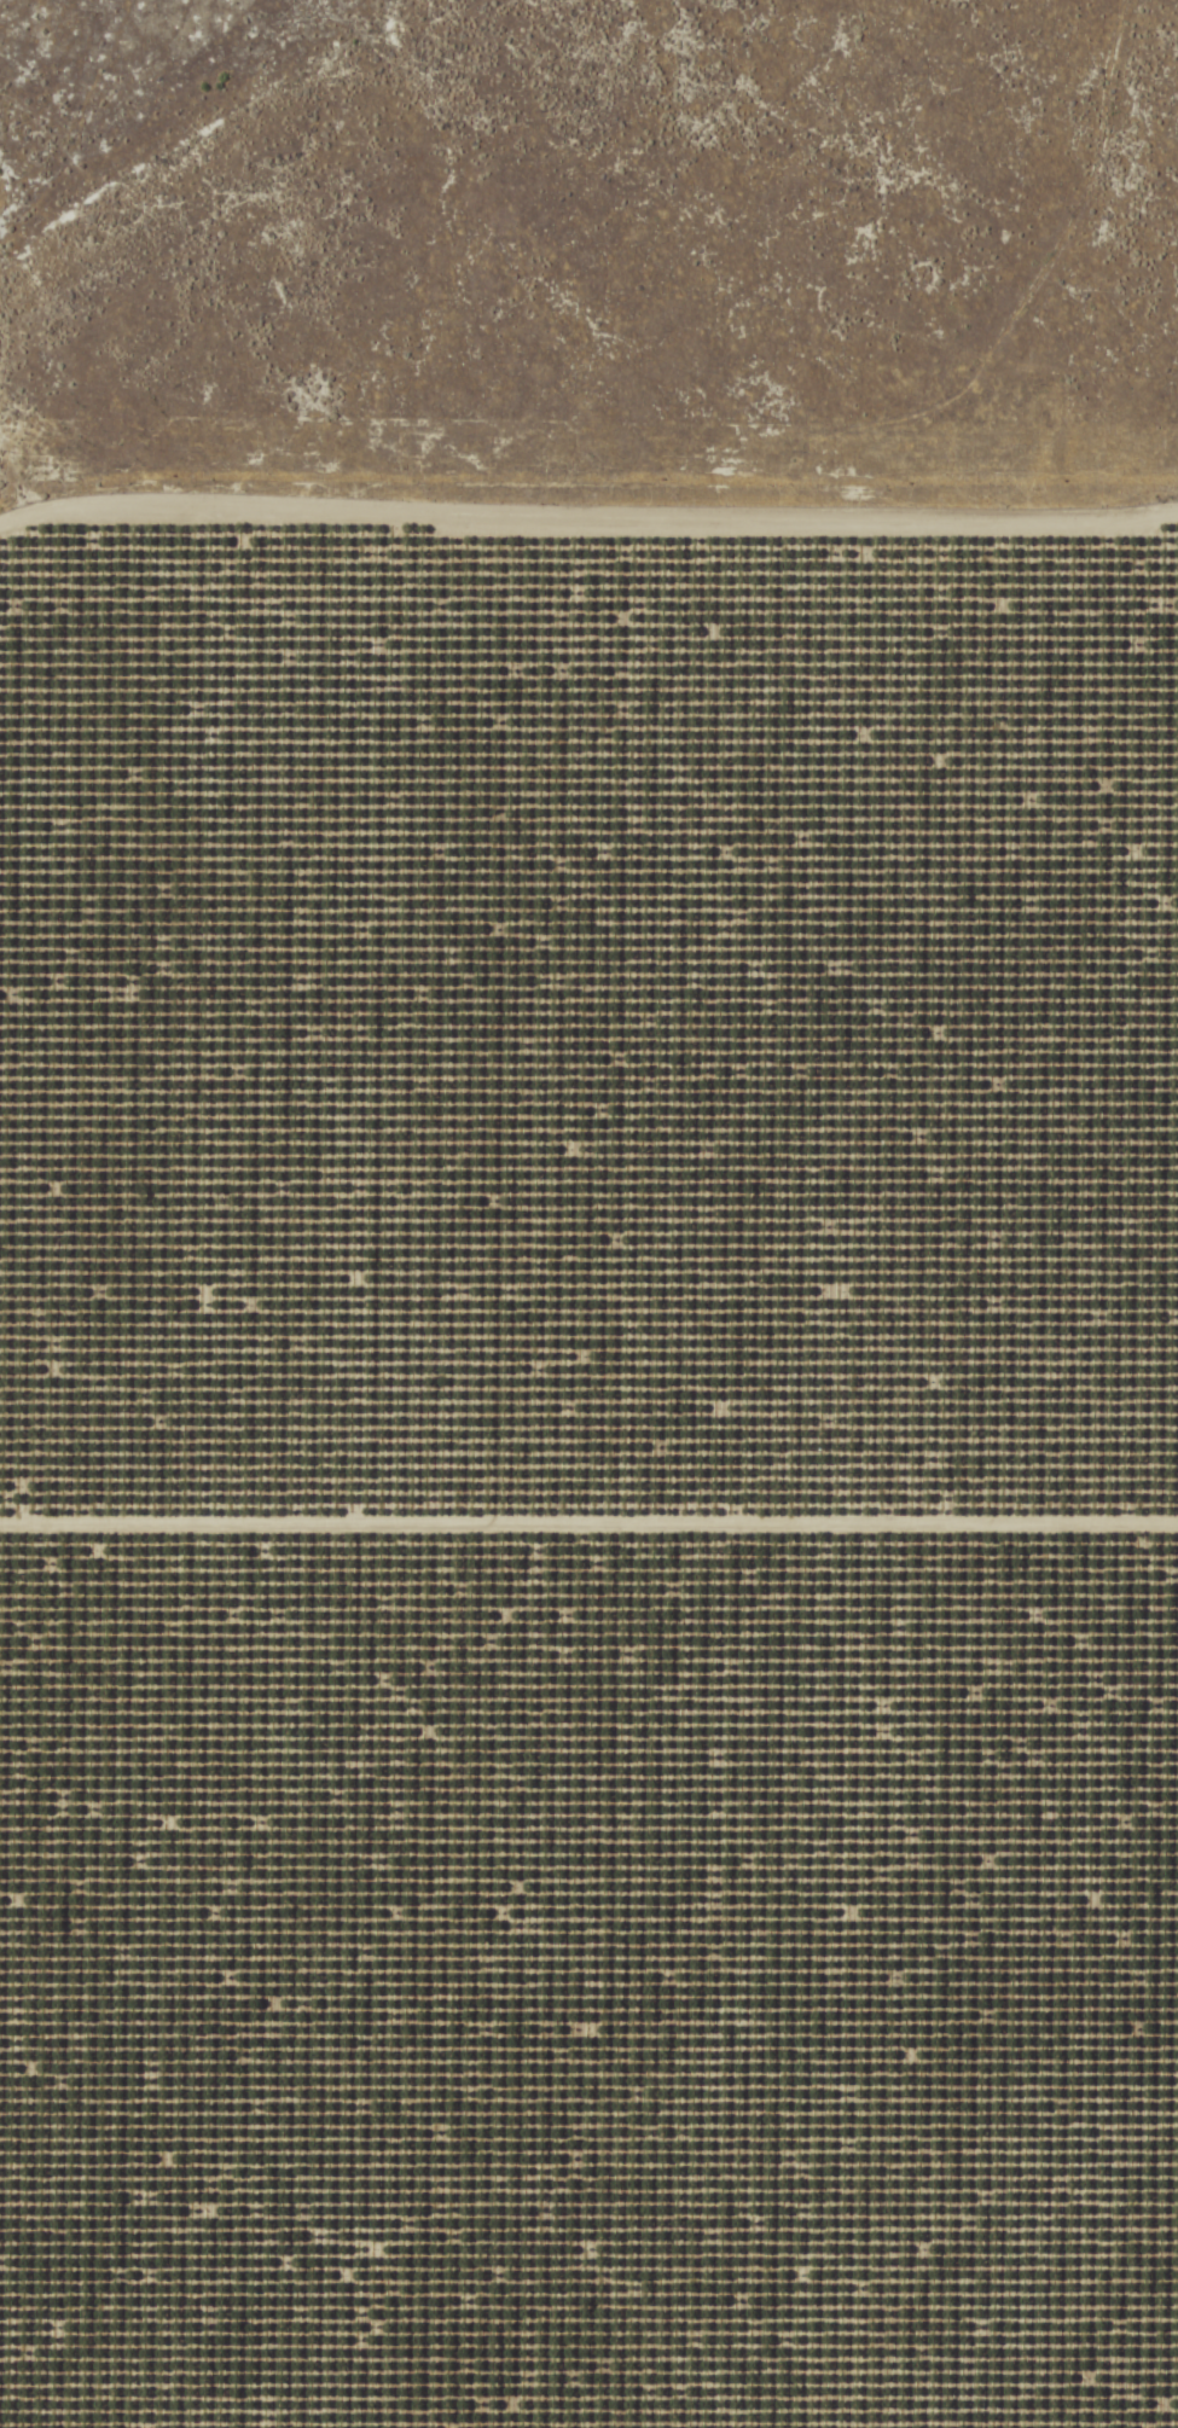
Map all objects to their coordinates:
road: (588, 510)
road: (588, 1483)

